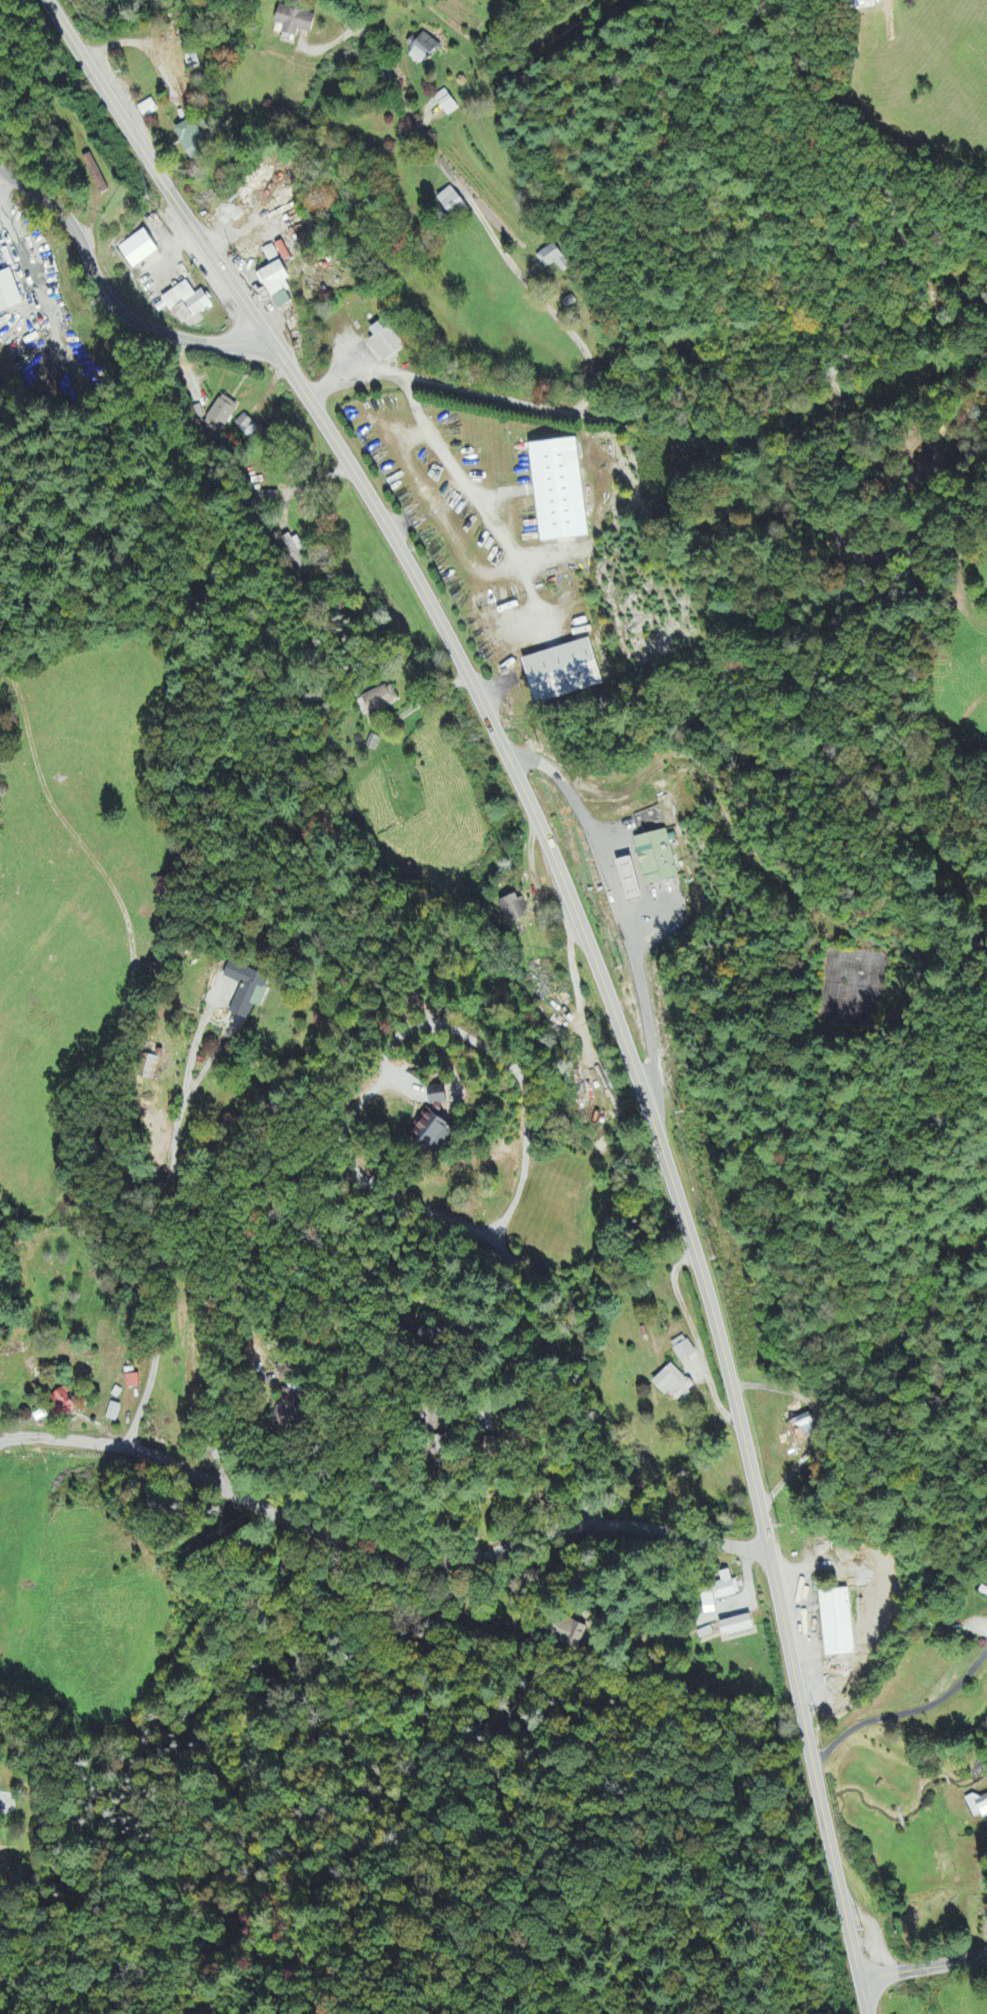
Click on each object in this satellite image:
building: (293, 24)
building: (422, 49)
building: (446, 104)
building: (147, 110)
building: (192, 142)
building: (95, 175)
building: (451, 203)
road: (471, 204)
building: (138, 251)
building: (270, 255)
building: (552, 259)
road: (104, 284)
building: (276, 287)
building: (8, 295)
building: (186, 304)
building: (385, 341)
road: (652, 414)
building: (220, 416)
building: (246, 427)
building: (559, 491)
building: (269, 498)
building: (295, 553)
building: (563, 673)
building: (380, 701)
building: (372, 743)
building: (656, 858)
building: (630, 881)
building: (166, 888)
building: (513, 910)
road: (595, 963)
building: (247, 990)
road: (581, 1075)
building: (438, 1096)
building: (433, 1131)
road: (3, 1154)
road: (524, 1304)
building: (683, 1350)
building: (286, 1373)
building: (132, 1383)
building: (673, 1385)
road: (543, 1402)
building: (64, 1403)
building: (288, 1412)
building: (112, 1413)
building: (801, 1431)
building: (443, 1447)
road: (635, 1534)
road: (467, 1562)
building: (725, 1588)
building: (984, 1591)
building: (708, 1604)
building: (836, 1626)
building: (737, 1627)
building: (570, 1634)
building: (977, 1807)
road: (928, 1978)
road: (869, 1991)

